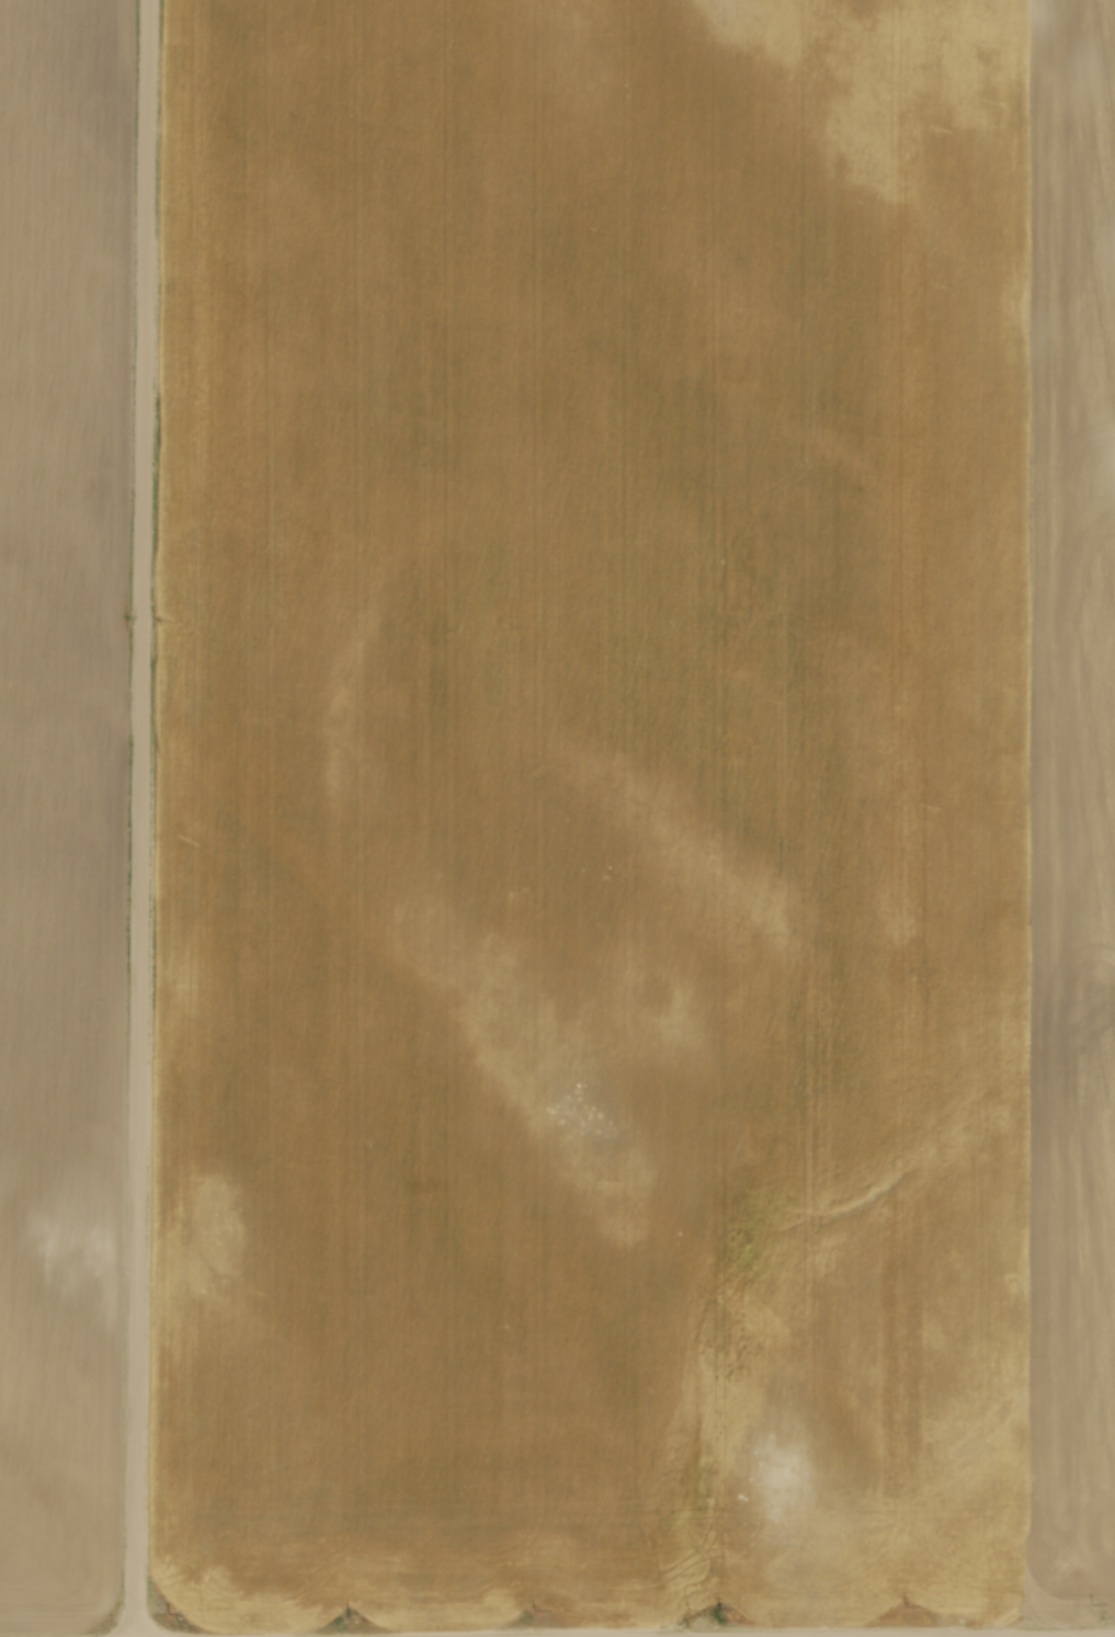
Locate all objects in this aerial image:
crop: (61, 794)
crop: (639, 812)
road: (143, 818)

